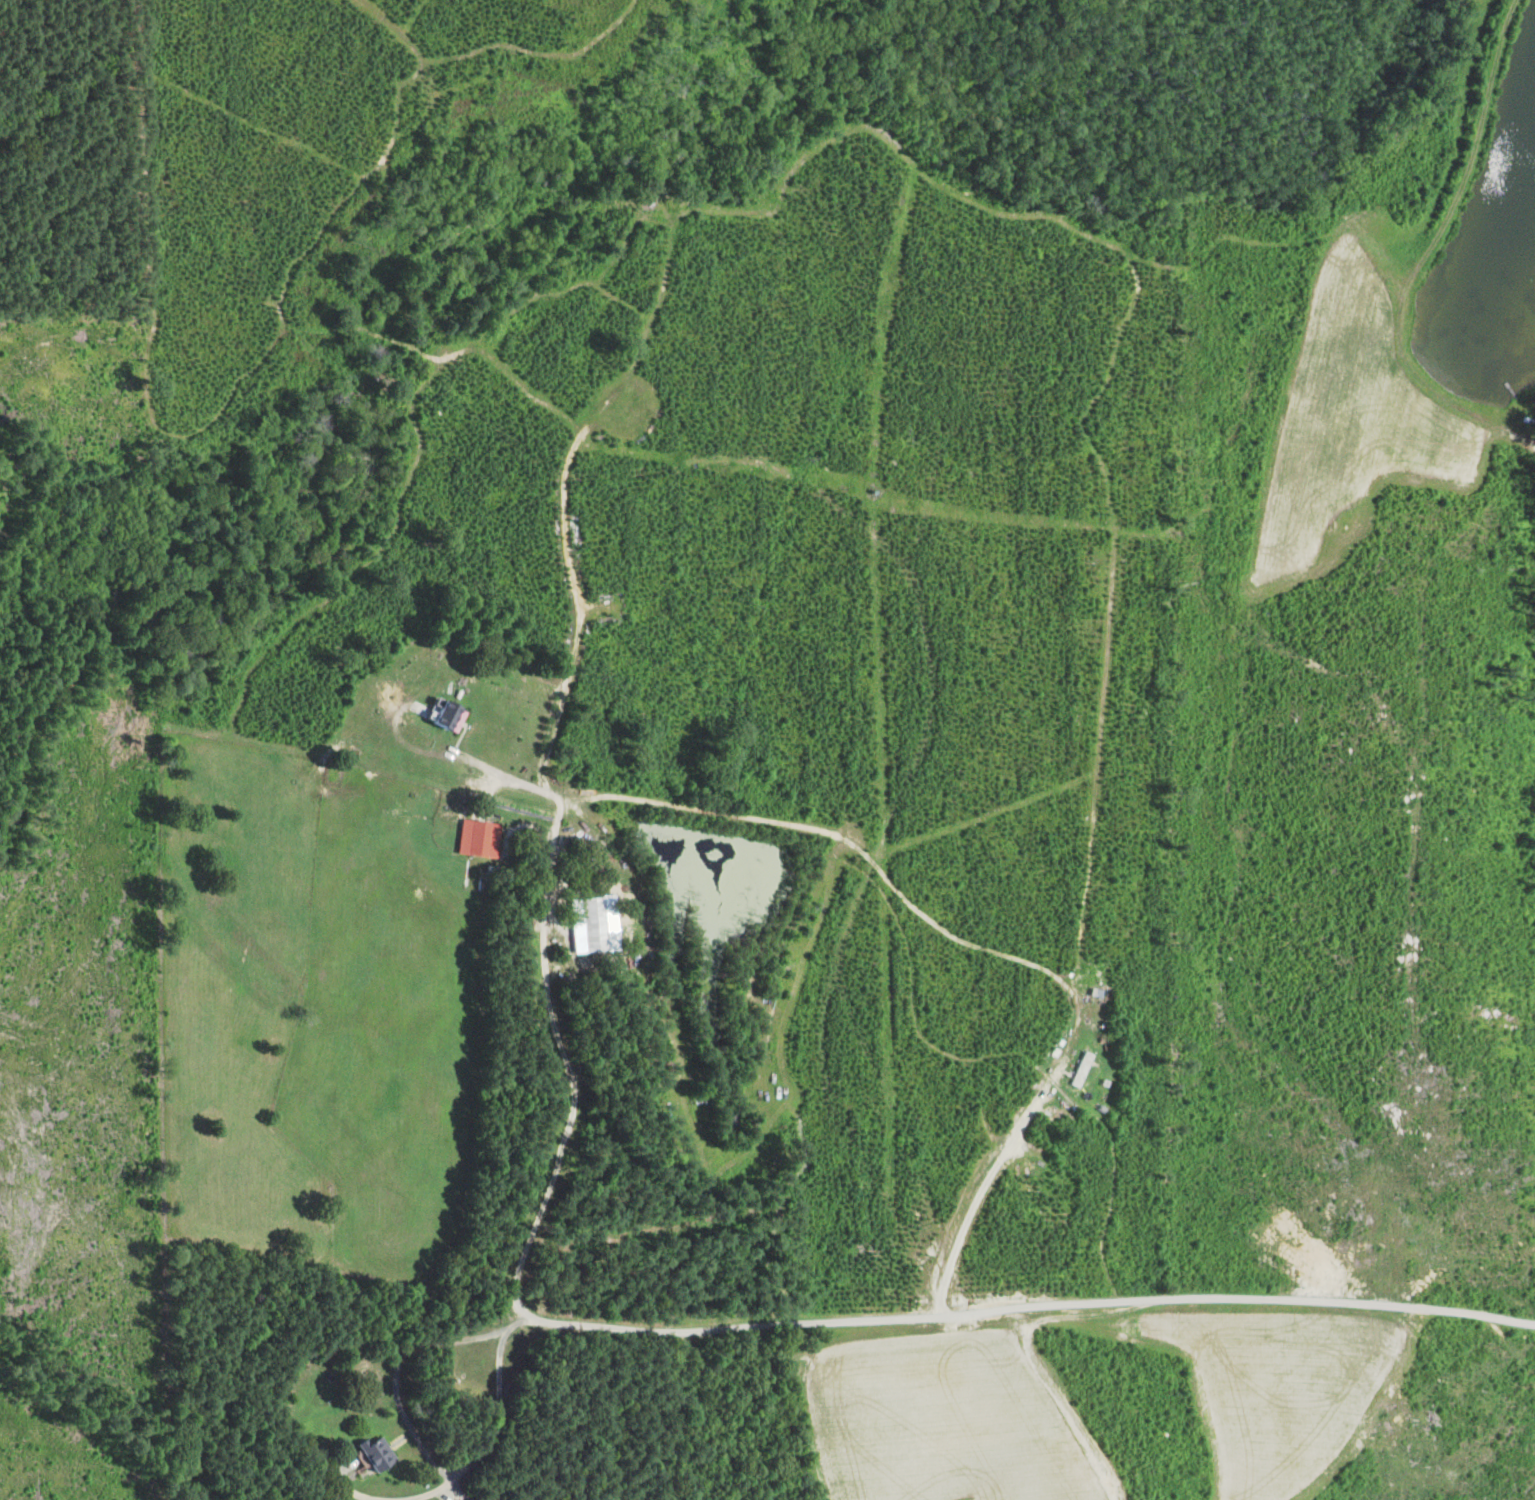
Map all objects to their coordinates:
building: (441, 716)
road: (498, 772)
building: (474, 838)
road: (549, 898)
building: (587, 924)
building: (1077, 1069)
road: (971, 1202)
road: (1035, 1322)
road: (425, 1451)
building: (372, 1453)

